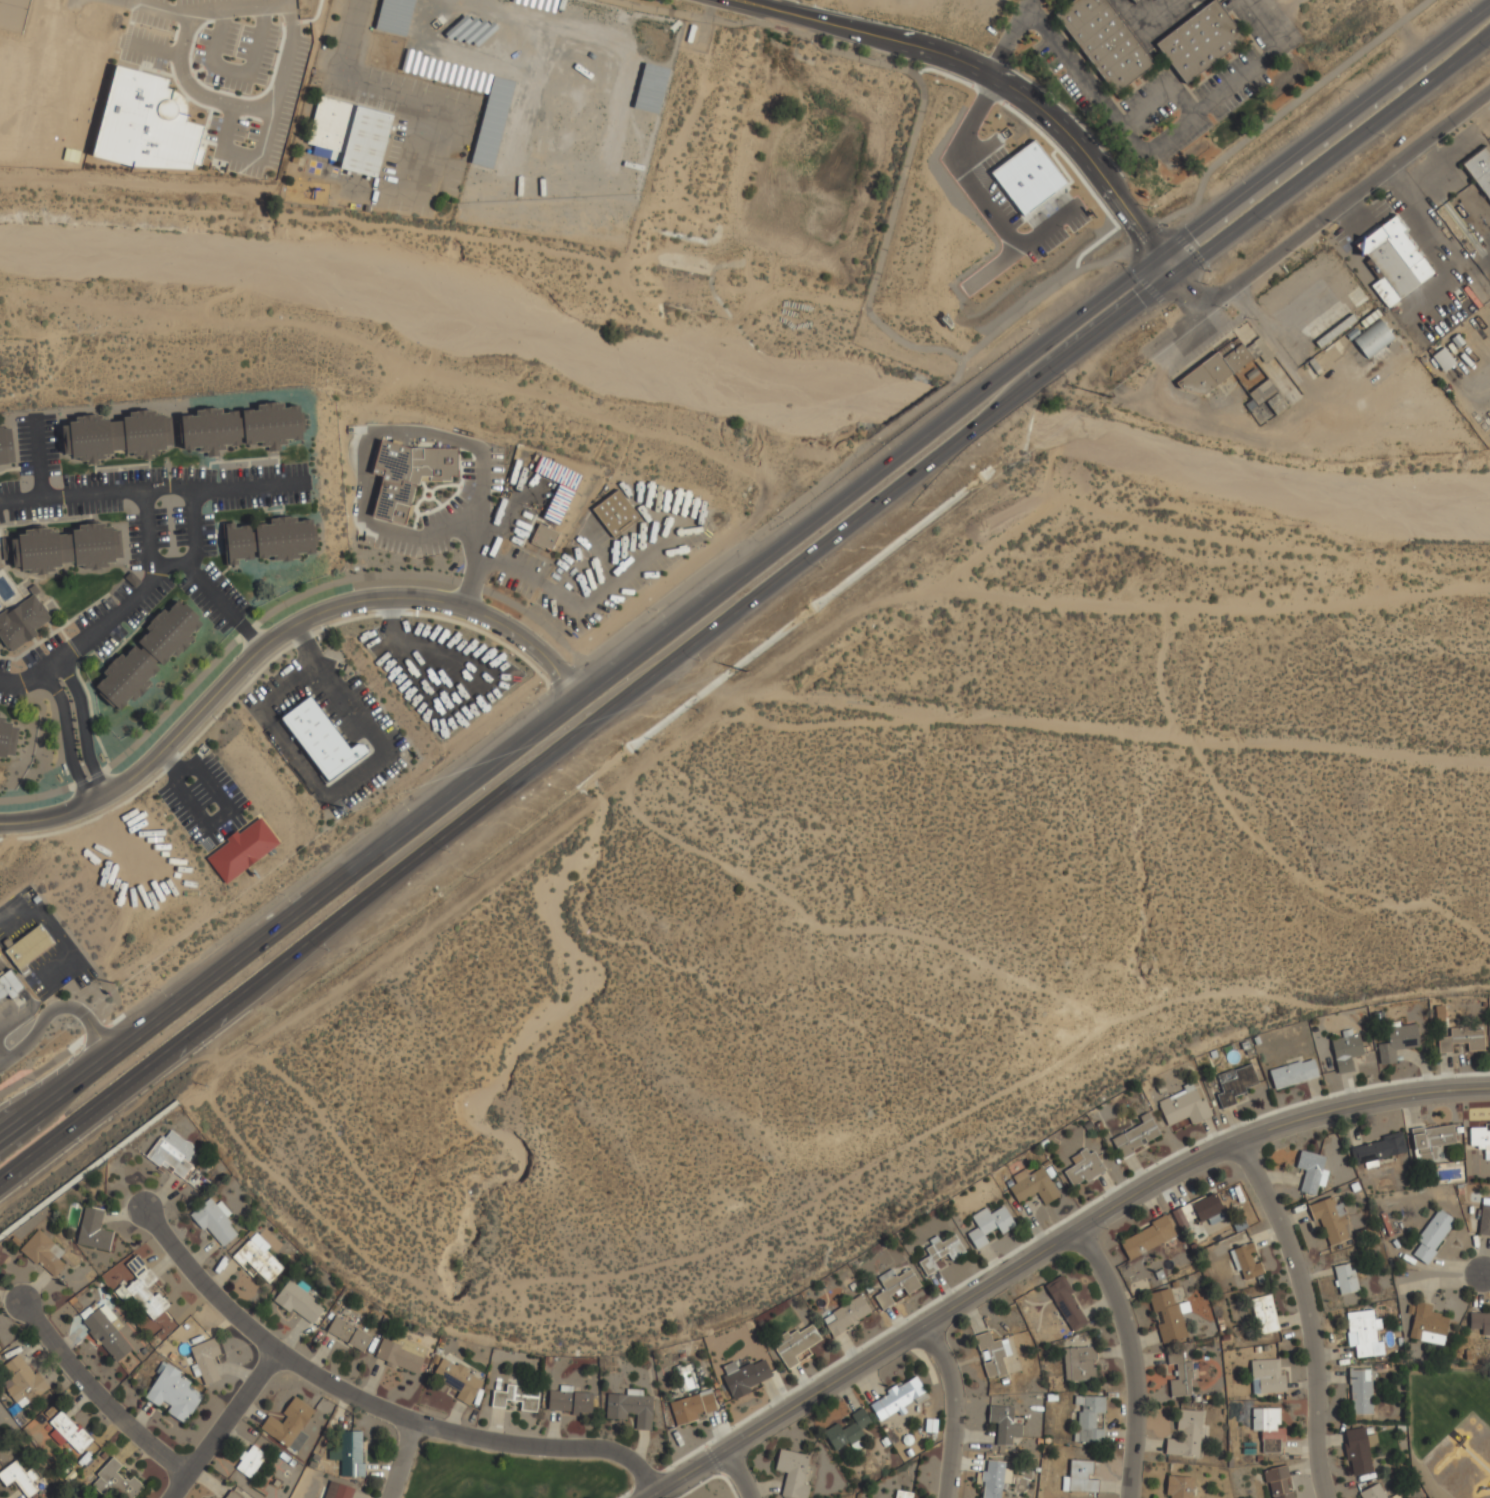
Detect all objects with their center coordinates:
building: (1133, 1)
road: (1027, 2)
street lamp: (1462, 5)
road: (237, 7)
road: (156, 8)
building: (1199, 40)
road: (1007, 41)
building: (1104, 41)
road: (997, 81)
street lamp: (1349, 91)
road: (252, 109)
building: (147, 123)
building: (349, 135)
street lamp: (1383, 137)
road: (1160, 140)
road: (234, 155)
building: (1480, 170)
street lamp: (1237, 177)
road: (1332, 209)
street lamp: (1271, 222)
traffic signals: (1157, 255)
building: (1393, 261)
street lamp: (1125, 265)
street lamp: (1209, 271)
traffic signals: (1176, 278)
river: (457, 309)
street lamp: (1031, 328)
building: (1373, 339)
building: (1443, 359)
power tower: (1147, 366)
building: (1215, 370)
street lamp: (1066, 376)
building: (1270, 396)
power tower: (1109, 397)
river: (969, 416)
building: (241, 428)
building: (117, 435)
road: (364, 440)
street lamp: (882, 443)
parking lot: (51, 445)
building: (5, 446)
parking lot: (23, 446)
road: (38, 456)
street lamp: (240, 465)
parking lot: (495, 465)
street lamp: (505, 465)
street lamp: (124, 468)
street lamp: (948, 469)
parking lot: (262, 472)
parking lot: (193, 474)
building: (406, 476)
parking lot: (114, 478)
river: (1259, 479)
street lamp: (457, 480)
street lamp: (26, 482)
parking lot: (9, 487)
road: (153, 487)
building: (557, 487)
street lamp: (699, 496)
parking lot: (462, 497)
parking lot: (260, 500)
street lamp: (63, 506)
street lamp: (205, 506)
parking lot: (94, 507)
road: (645, 507)
street lamp: (428, 509)
parking lot: (34, 512)
building: (615, 513)
road: (672, 515)
parking lot: (1, 517)
street lamp: (783, 518)
parking lot: (512, 522)
parking lot: (179, 526)
road: (193, 526)
road: (496, 527)
parking lot: (161, 528)
parking lot: (207, 535)
building: (544, 537)
building: (269, 539)
street lamp: (571, 541)
parking lot: (135, 542)
road: (591, 544)
parking lot: (411, 547)
building: (63, 548)
street lamp: (697, 548)
street lamp: (393, 554)
street lamp: (433, 557)
parking lot: (529, 558)
road: (478, 562)
street lamp: (555, 566)
street lamp: (820, 568)
road: (745, 572)
road: (531, 577)
street lamp: (648, 584)
parking lot: (225, 588)
parking lot: (122, 591)
street lamp: (577, 592)
road: (213, 595)
parking lot: (148, 603)
parking lot: (203, 605)
road: (746, 608)
street lamp: (657, 610)
road: (119, 612)
parking lot: (94, 613)
street lamp: (607, 616)
building: (21, 622)
street lamp: (271, 623)
road: (277, 634)
parking lot: (109, 641)
parking lot: (52, 643)
road: (306, 648)
street lamp: (45, 652)
building: (148, 654)
parking lot: (32, 657)
street lamp: (699, 661)
street lamp: (568, 663)
parking lot: (4, 666)
power tower: (744, 671)
street lamp: (60, 681)
parking lot: (8, 699)
street lamp: (532, 705)
road: (83, 726)
street lamp: (76, 734)
road: (66, 736)
building: (7, 738)
building: (322, 740)
street lamp: (572, 757)
road: (171, 763)
parking lot: (224, 782)
road: (343, 784)
parking lot: (199, 793)
street lamp: (63, 800)
road: (223, 802)
street lamp: (402, 804)
power tower: (341, 808)
parking lot: (180, 814)
parking lot: (238, 821)
parking lot: (215, 838)
building: (242, 850)
street lamp: (448, 853)
street lamp: (284, 895)
road: (54, 931)
road: (41, 938)
road: (34, 941)
road: (27, 945)
building: (29, 947)
street lamp: (323, 947)
road: (22, 950)
parking lot: (85, 977)
power tower: (112, 983)
building: (11, 986)
parking lot: (36, 987)
street lamp: (160, 990)
road: (56, 1008)
building: (1462, 1039)
street lamp: (199, 1042)
building: (1398, 1042)
building: (1346, 1051)
building: (1293, 1073)
building: (1234, 1084)
building: (1184, 1106)
building: (1136, 1135)
street lamp: (75, 1137)
building: (1480, 1138)
building: (1431, 1140)
building: (1377, 1149)
building: (173, 1154)
building: (1083, 1167)
building: (1311, 1170)
building: (1033, 1186)
building: (1204, 1209)
building: (214, 1220)
building: (1331, 1220)
building: (1484, 1220)
building: (989, 1225)
building: (93, 1230)
building: (1147, 1237)
building: (1432, 1237)
road: (1054, 1249)
building: (43, 1252)
building: (940, 1253)
building: (257, 1258)
building: (1246, 1261)
road: (1484, 1274)
building: (1345, 1279)
building: (895, 1286)
building: (142, 1289)
building: (299, 1302)
building: (1066, 1304)
road: (1309, 1311)
building: (1264, 1314)
building: (846, 1315)
building: (1167, 1315)
building: (1479, 1323)
building: (1427, 1325)
building: (107, 1332)
building: (1362, 1332)
building: (348, 1334)
building: (796, 1344)
building: (992, 1355)
building: (398, 1356)
building: (205, 1360)
road: (1131, 1360)
building: (1079, 1364)
building: (1181, 1373)
building: (744, 1376)
building: (1267, 1376)
building: (458, 1379)
building: (22, 1381)
road: (104, 1391)
building: (1360, 1391)
building: (174, 1392)
building: (517, 1397)
building: (898, 1398)
building: (570, 1401)
road: (376, 1402)
building: (693, 1406)
building: (630, 1407)
road: (951, 1410)
building: (1088, 1418)
building: (1005, 1422)
road: (222, 1424)
building: (288, 1425)
building: (1269, 1428)
building: (847, 1431)
building: (69, 1432)
park: (1450, 1432)
building: (1185, 1435)
building: (1358, 1450)
building: (351, 1454)
road: (402, 1460)
building: (250, 1461)
road: (740, 1473)
building: (792, 1473)
park: (505, 1474)
building: (1080, 1477)
building: (19, 1478)
building: (994, 1479)
building: (115, 1482)
building: (1278, 1482)
building: (1178, 1486)
building: (338, 1491)
building: (1373, 1492)
building: (901, 1494)
building: (231, 1495)
building: (1395, 1496)

